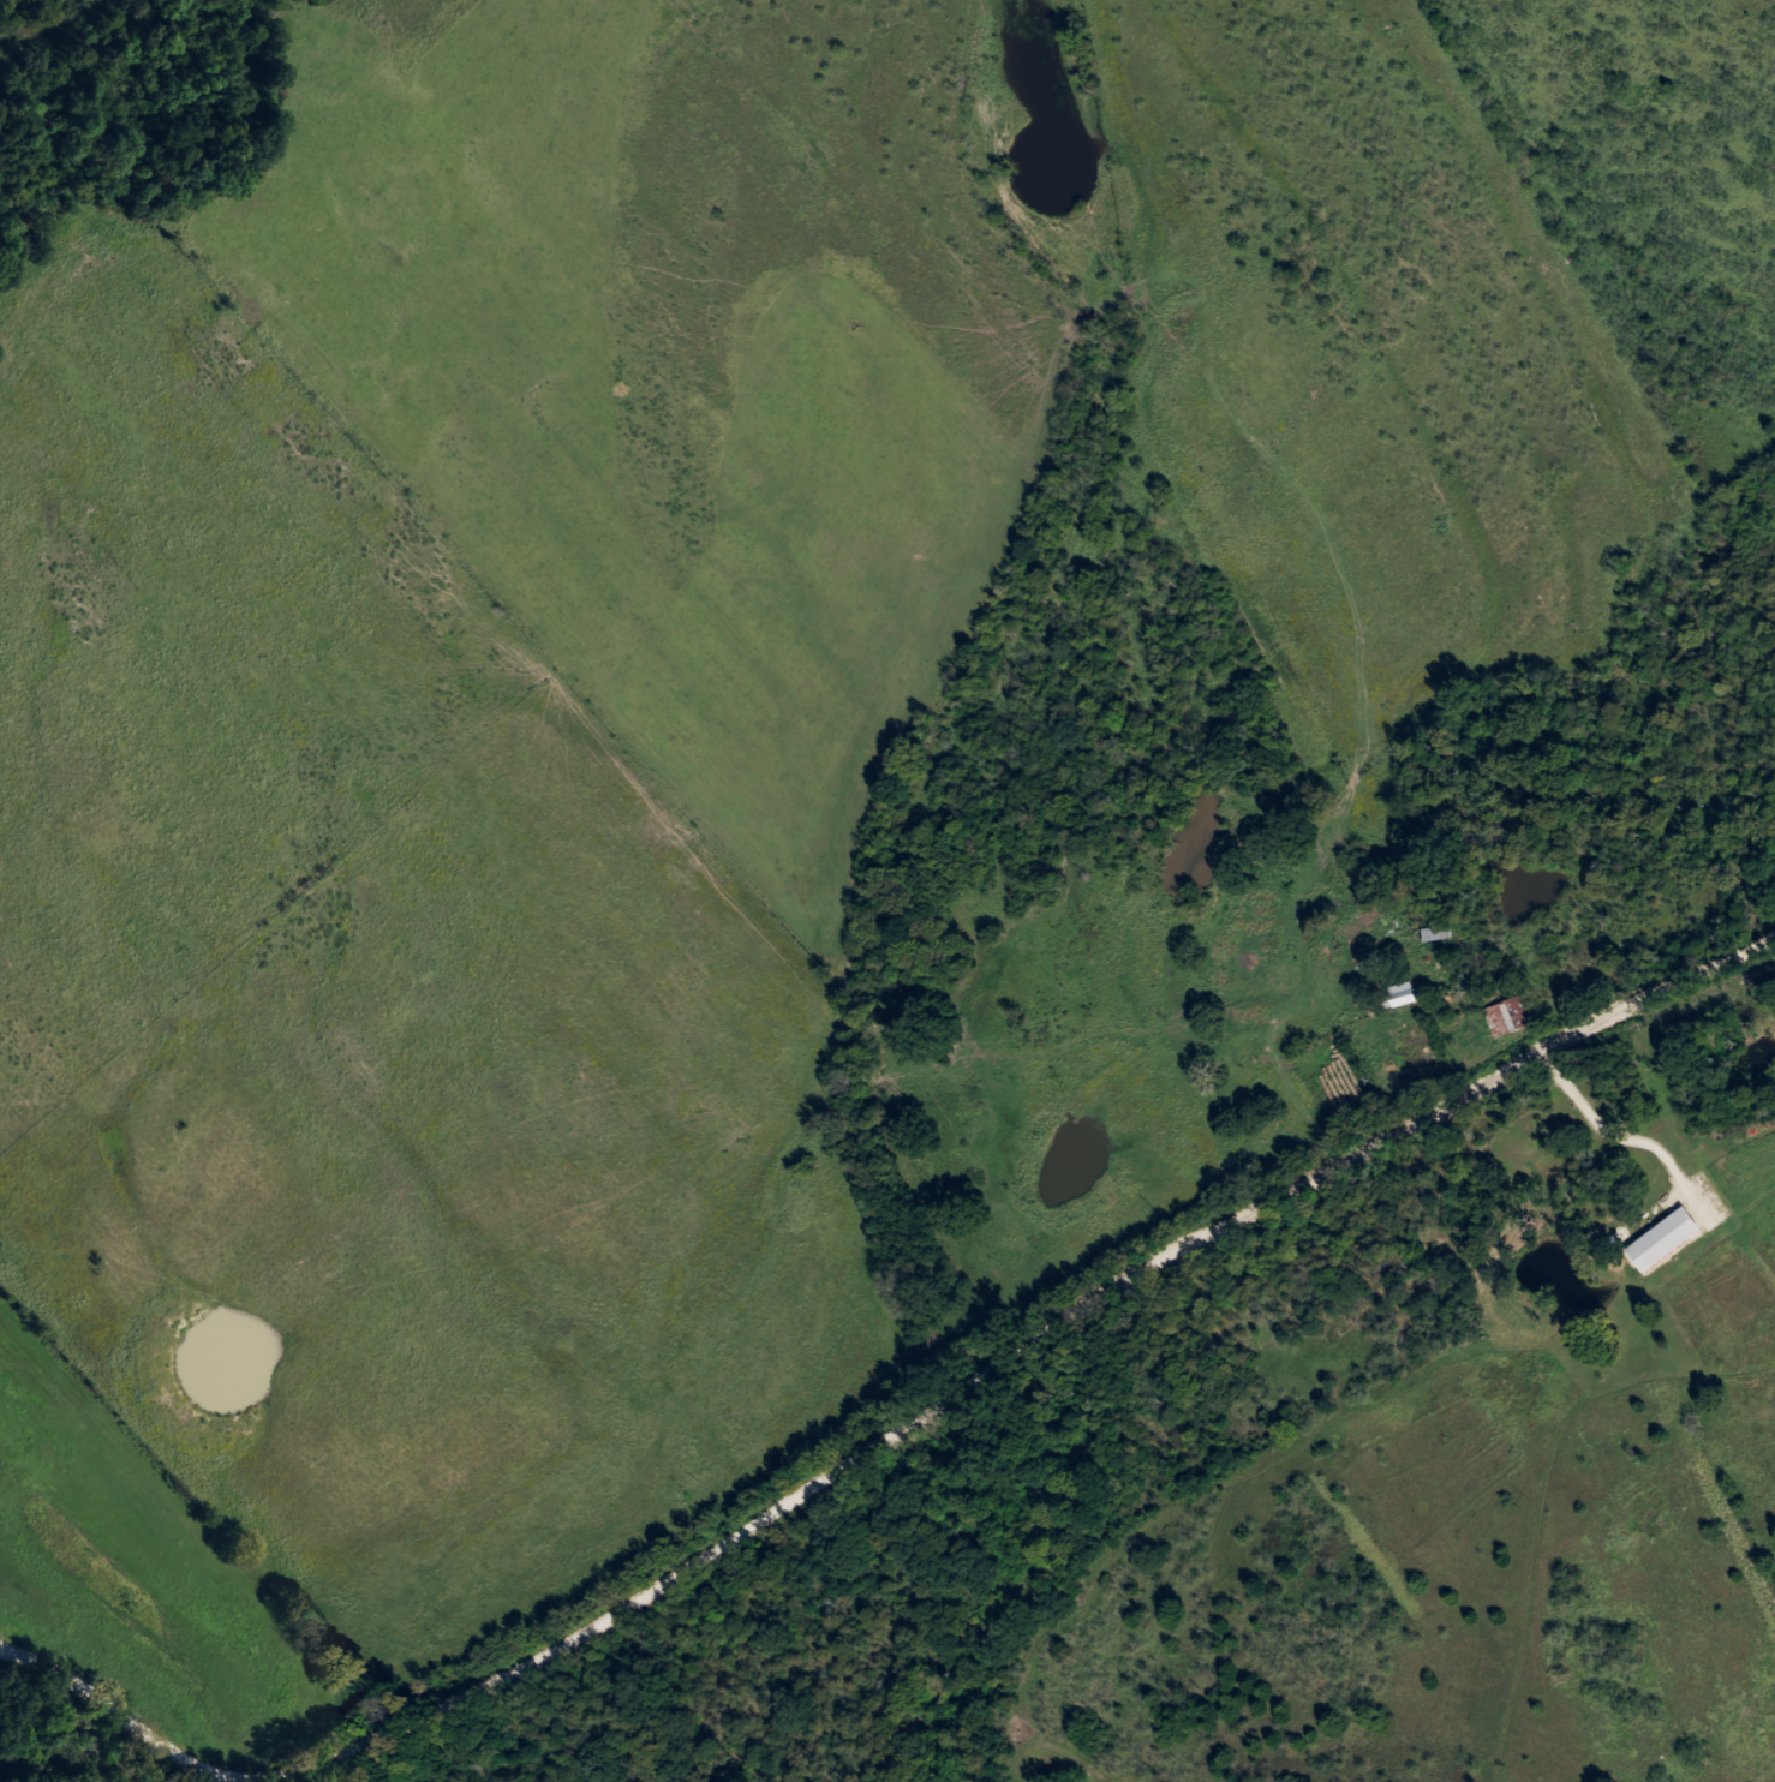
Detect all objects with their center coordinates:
building: (1511, 1018)
building: (1668, 1242)
road: (890, 1443)

